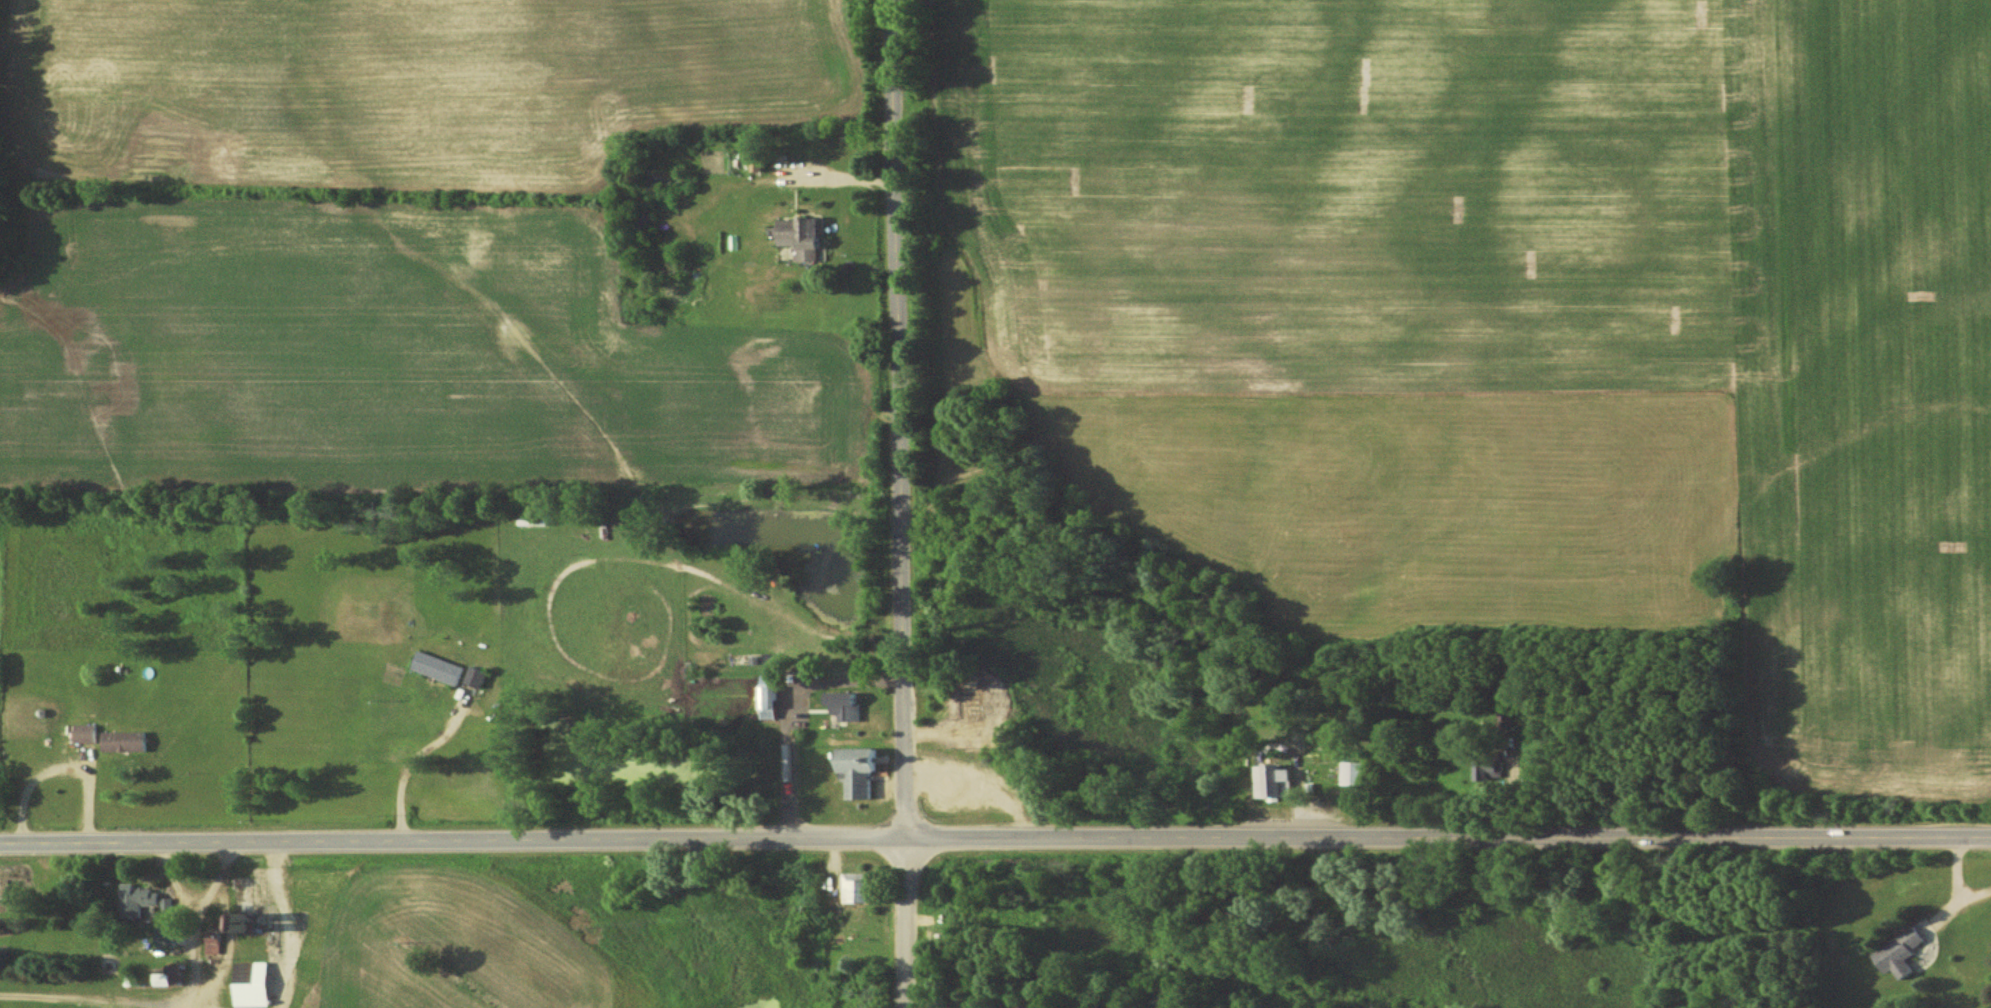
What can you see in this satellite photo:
road: (839, 179)
building: (804, 237)
road: (899, 503)
building: (440, 667)
building: (477, 676)
building: (770, 696)
building: (848, 705)
road: (790, 714)
building: (87, 733)
building: (970, 739)
building: (126, 741)
road: (413, 760)
road: (62, 769)
building: (861, 769)
building: (1487, 769)
building: (1355, 772)
building: (1274, 780)
road: (995, 840)
building: (860, 887)
building: (143, 900)
road: (190, 924)
road: (290, 925)
building: (166, 936)
building: (1901, 953)
building: (134, 979)
building: (253, 984)
road: (69, 999)

